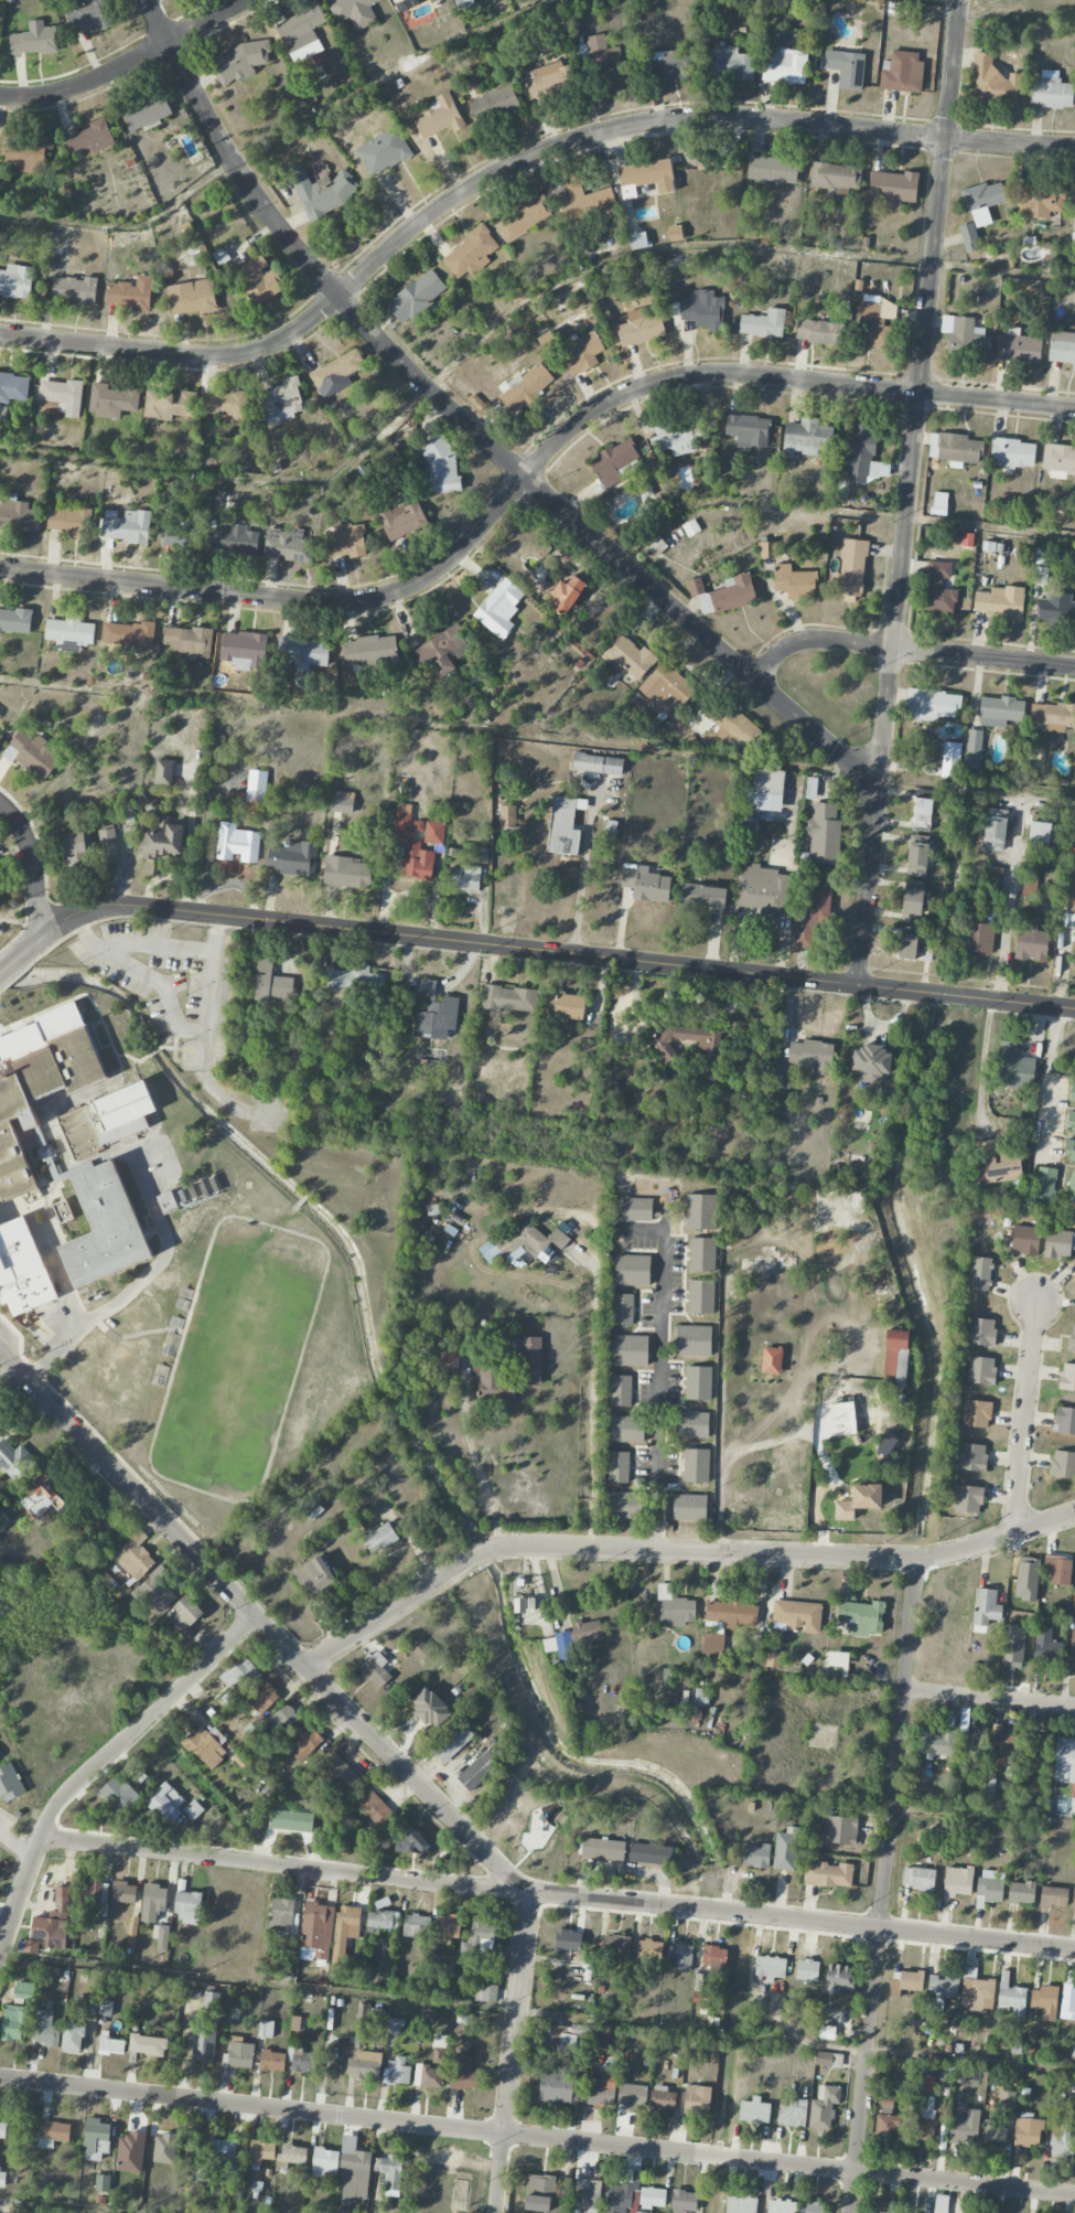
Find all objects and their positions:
road: (953, 0)
building: (397, 1)
building: (462, 3)
building: (354, 11)
building: (88, 15)
road: (1017, 18)
building: (300, 26)
building: (32, 41)
building: (305, 52)
building: (239, 61)
building: (605, 61)
building: (731, 63)
road: (130, 65)
building: (668, 65)
building: (784, 65)
building: (846, 68)
building: (903, 72)
building: (545, 78)
building: (991, 81)
building: (1050, 90)
building: (493, 104)
building: (146, 113)
building: (439, 117)
road: (284, 131)
building: (89, 140)
building: (383, 151)
building: (25, 154)
road: (509, 164)
building: (772, 169)
building: (647, 174)
building: (836, 178)
building: (893, 188)
building: (323, 191)
building: (982, 201)
building: (1040, 201)
building: (585, 202)
building: (524, 216)
building: (675, 233)
building: (968, 237)
building: (637, 240)
building: (470, 253)
building: (258, 278)
building: (15, 281)
building: (74, 289)
building: (130, 293)
building: (416, 296)
building: (191, 297)
road: (508, 309)
building: (703, 310)
building: (763, 323)
building: (875, 323)
building: (639, 329)
building: (816, 331)
building: (966, 338)
building: (1018, 346)
building: (1062, 348)
building: (580, 351)
building: (336, 373)
building: (526, 386)
building: (13, 387)
building: (61, 396)
building: (111, 400)
building: (281, 400)
building: (225, 404)
building: (169, 405)
road: (472, 428)
building: (748, 429)
building: (679, 436)
building: (806, 438)
building: (1012, 453)
building: (861, 455)
building: (1058, 460)
building: (614, 463)
building: (442, 468)
road: (528, 471)
road: (910, 492)
road: (837, 511)
building: (17, 514)
building: (67, 520)
building: (401, 520)
building: (126, 526)
building: (182, 537)
building: (234, 539)
building: (347, 541)
building: (287, 545)
building: (656, 546)
building: (767, 549)
building: (852, 567)
building: (1039, 575)
building: (795, 582)
building: (938, 588)
building: (567, 594)
building: (723, 594)
building: (999, 602)
building: (499, 608)
building: (1057, 609)
building: (15, 620)
building: (69, 630)
building: (127, 634)
building: (189, 641)
road: (906, 648)
building: (244, 650)
building: (369, 651)
building: (440, 651)
building: (302, 653)
building: (631, 656)
building: (668, 688)
building: (931, 705)
building: (1000, 710)
building: (1053, 716)
road: (423, 721)
building: (733, 726)
building: (0, 736)
building: (974, 749)
building: (31, 755)
building: (950, 760)
building: (596, 763)
building: (163, 772)
road: (977, 783)
building: (256, 785)
building: (766, 792)
building: (342, 802)
building: (922, 812)
building: (507, 815)
building: (565, 825)
building: (995, 831)
building: (434, 832)
building: (823, 833)
building: (159, 834)
building: (1039, 835)
building: (236, 844)
building: (108, 846)
building: (411, 846)
building: (77, 849)
building: (292, 858)
building: (917, 859)
road: (35, 865)
building: (346, 873)
road: (581, 874)
building: (465, 877)
building: (993, 879)
building: (1030, 883)
building: (645, 884)
building: (761, 889)
building: (1069, 895)
building: (703, 896)
building: (913, 901)
road: (1009, 905)
building: (813, 915)
building: (1068, 919)
park: (18, 922)
road: (22, 923)
building: (978, 938)
building: (1030, 942)
road: (160, 945)
road: (526, 948)
building: (913, 949)
road: (144, 973)
parking lot: (158, 979)
building: (352, 980)
building: (271, 981)
building: (509, 998)
building: (565, 1005)
building: (436, 1013)
road: (205, 1035)
building: (707, 1043)
building: (622, 1052)
road: (982, 1058)
building: (805, 1060)
building: (871, 1063)
building: (1013, 1068)
road: (1049, 1078)
building: (40, 1082)
building: (1072, 1093)
building: (107, 1120)
building: (1071, 1122)
building: (996, 1163)
building: (1044, 1183)
building: (636, 1209)
building: (63, 1211)
building: (700, 1211)
building: (105, 1228)
building: (558, 1239)
building: (524, 1240)
building: (1024, 1240)
building: (1058, 1243)
building: (702, 1254)
building: (22, 1269)
building: (632, 1270)
building: (980, 1273)
road: (139, 1283)
building: (701, 1296)
building: (623, 1308)
road: (69, 1324)
building: (981, 1332)
road: (135, 1335)
building: (1072, 1339)
building: (694, 1340)
building: (630, 1350)
track: (237, 1359)
building: (445, 1359)
building: (530, 1360)
building: (772, 1360)
building: (895, 1365)
park: (237, 1366)
building: (981, 1370)
building: (1067, 1377)
building: (698, 1382)
building: (493, 1383)
road: (658, 1387)
building: (621, 1390)
building: (977, 1413)
road: (1024, 1414)
building: (1065, 1420)
building: (691, 1424)
building: (0, 1426)
building: (626, 1429)
building: (972, 1457)
building: (14, 1458)
building: (1063, 1464)
building: (696, 1465)
building: (617, 1467)
road: (476, 1468)
building: (40, 1498)
building: (968, 1498)
building: (859, 1501)
building: (624, 1505)
building: (689, 1507)
building: (313, 1509)
building: (380, 1538)
road: (675, 1551)
building: (133, 1555)
building: (1058, 1570)
building: (314, 1576)
building: (1026, 1579)
building: (154, 1590)
building: (847, 1592)
building: (986, 1606)
building: (674, 1607)
building: (185, 1614)
building: (731, 1614)
building: (796, 1616)
building: (861, 1617)
road: (260, 1622)
building: (588, 1631)
building: (712, 1644)
building: (565, 1646)
building: (1012, 1646)
building: (1046, 1646)
building: (421, 1650)
building: (1072, 1650)
building: (838, 1664)
building: (375, 1669)
building: (240, 1675)
building: (701, 1696)
road: (989, 1697)
building: (262, 1698)
building: (429, 1708)
building: (282, 1719)
building: (308, 1740)
building: (452, 1742)
building: (935, 1742)
building: (974, 1743)
building: (206, 1745)
building: (1006, 1747)
building: (1038, 1750)
building: (1064, 1761)
road: (97, 1764)
building: (337, 1771)
building: (477, 1771)
building: (9, 1783)
building: (118, 1793)
building: (165, 1803)
building: (372, 1806)
building: (193, 1809)
road: (983, 1816)
building: (291, 1820)
building: (839, 1830)
building: (417, 1841)
road: (17, 1848)
building: (602, 1849)
building: (785, 1851)
building: (651, 1853)
building: (756, 1856)
road: (283, 1868)
building: (827, 1874)
building: (918, 1878)
building: (957, 1881)
road: (883, 1884)
building: (989, 1886)
road: (529, 1890)
building: (123, 1892)
building: (1021, 1892)
building: (94, 1893)
building: (1053, 1896)
building: (1074, 1896)
building: (153, 1902)
building: (187, 1907)
building: (282, 1915)
building: (383, 1920)
road: (803, 1920)
building: (53, 1922)
building: (416, 1925)
building: (345, 1928)
building: (447, 1929)
building: (316, 1932)
building: (161, 1937)
building: (481, 1937)
building: (567, 1939)
building: (616, 1945)
building: (31, 1946)
building: (649, 1949)
building: (680, 1955)
building: (714, 1958)
building: (771, 1968)
building: (807, 1969)
building: (839, 1979)
building: (904, 1981)
building: (943, 1986)
building: (976, 1991)
building: (485, 1992)
building: (700, 1998)
building: (1011, 1999)
building: (1068, 1999)
building: (211, 2001)
building: (1045, 2001)
building: (90, 2007)
building: (105, 2008)
road: (537, 2012)
building: (13, 2022)
building: (361, 2025)
building: (395, 2025)
building: (45, 2034)
building: (600, 2038)
building: (72, 2039)
building: (558, 2039)
building: (110, 2044)
building: (203, 2044)
building: (148, 2045)
building: (439, 2049)
road: (514, 2052)
building: (1073, 2052)
building: (238, 2053)
building: (301, 2060)
building: (829, 2060)
building: (271, 2061)
building: (363, 2065)
building: (396, 2072)
building: (464, 2074)
building: (427, 2076)
building: (557, 2085)
building: (602, 2088)
building: (632, 2096)
building: (662, 2098)
building: (697, 2099)
building: (885, 2100)
building: (824, 2107)
building: (754, 2110)
building: (793, 2113)
building: (925, 2124)
building: (891, 2126)
building: (961, 2127)
building: (2, 2129)
building: (995, 2131)
building: (1028, 2132)
building: (52, 2134)
road: (537, 2137)
building: (96, 2138)
building: (1062, 2142)
building: (164, 2148)
building: (223, 2150)
building: (260, 2151)
building: (131, 2152)
building: (292, 2155)
road: (186, 2157)
building: (325, 2159)
building: (353, 2172)
building: (2, 2180)
building: (103, 2182)
building: (622, 2191)
building: (538, 2192)
building: (588, 2193)
building: (653, 2198)
building: (684, 2201)
building: (741, 2204)
building: (940, 2204)
road: (55, 2205)
building: (781, 2206)
building: (811, 2207)
building: (341, 2211)
building: (638, 2212)

